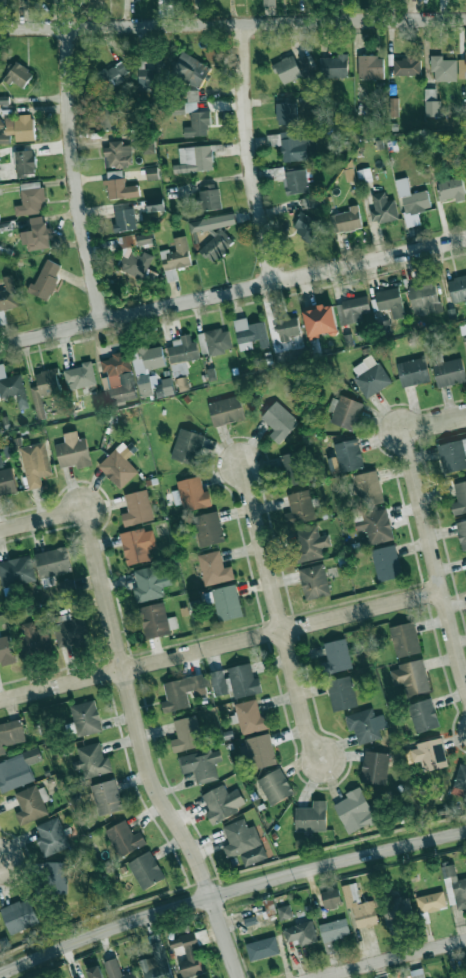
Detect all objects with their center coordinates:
building: (268, 2)
road: (232, 23)
building: (334, 65)
building: (406, 66)
building: (370, 67)
building: (293, 68)
building: (462, 68)
building: (190, 69)
building: (443, 69)
building: (151, 74)
building: (19, 75)
building: (112, 75)
building: (4, 99)
building: (191, 100)
building: (286, 113)
building: (111, 118)
building: (197, 123)
building: (1, 124)
building: (18, 128)
building: (462, 142)
building: (293, 145)
road: (246, 153)
building: (117, 154)
building: (194, 158)
building: (24, 162)
building: (151, 172)
building: (350, 174)
road: (72, 175)
building: (364, 175)
building: (293, 180)
building: (119, 186)
building: (451, 189)
building: (208, 197)
building: (30, 198)
building: (305, 202)
building: (411, 202)
building: (382, 208)
building: (125, 219)
building: (346, 219)
building: (0, 221)
building: (212, 222)
building: (306, 226)
building: (37, 235)
building: (143, 238)
building: (126, 240)
building: (216, 245)
building: (175, 258)
building: (138, 263)
building: (45, 279)
building: (457, 288)
road: (232, 290)
building: (8, 293)
building: (424, 298)
building: (390, 301)
building: (351, 309)
building: (319, 319)
building: (462, 327)
building: (286, 328)
building: (250, 334)
building: (214, 341)
building: (314, 348)
building: (182, 353)
building: (147, 365)
building: (413, 371)
building: (79, 375)
building: (370, 376)
building: (117, 379)
building: (12, 387)
building: (44, 388)
building: (226, 410)
building: (344, 411)
building: (279, 421)
road: (435, 421)
building: (187, 445)
building: (73, 450)
building: (452, 454)
building: (345, 456)
building: (35, 463)
building: (290, 463)
building: (118, 465)
building: (6, 480)
building: (368, 488)
building: (190, 494)
building: (459, 498)
building: (299, 507)
building: (137, 508)
road: (42, 519)
building: (374, 524)
building: (208, 528)
building: (462, 533)
building: (309, 543)
building: (137, 545)
road: (435, 560)
building: (53, 562)
building: (386, 563)
building: (214, 568)
building: (16, 571)
building: (314, 581)
building: (150, 582)
building: (225, 602)
road: (277, 613)
building: (154, 620)
building: (69, 629)
building: (33, 638)
building: (405, 639)
road: (220, 644)
building: (6, 650)
building: (336, 656)
building: (410, 677)
building: (243, 680)
building: (218, 682)
building: (182, 691)
building: (341, 693)
building: (423, 715)
building: (250, 717)
building: (86, 718)
building: (366, 725)
building: (10, 734)
building: (186, 734)
road: (144, 750)
building: (261, 751)
building: (430, 754)
building: (92, 761)
building: (201, 764)
building: (375, 767)
building: (17, 770)
building: (460, 778)
building: (275, 786)
building: (106, 797)
building: (222, 803)
building: (31, 804)
building: (355, 810)
building: (312, 817)
building: (51, 837)
building: (124, 838)
building: (244, 842)
road: (1, 856)
building: (146, 870)
building: (57, 877)
building: (454, 887)
road: (229, 892)
building: (331, 898)
building: (431, 902)
building: (360, 907)
building: (397, 909)
building: (284, 912)
building: (19, 915)
building: (333, 932)
building: (300, 933)
building: (262, 948)
building: (190, 952)
road: (400, 960)
building: (157, 963)
building: (117, 970)
building: (95, 972)
building: (418, 973)
building: (458, 976)

